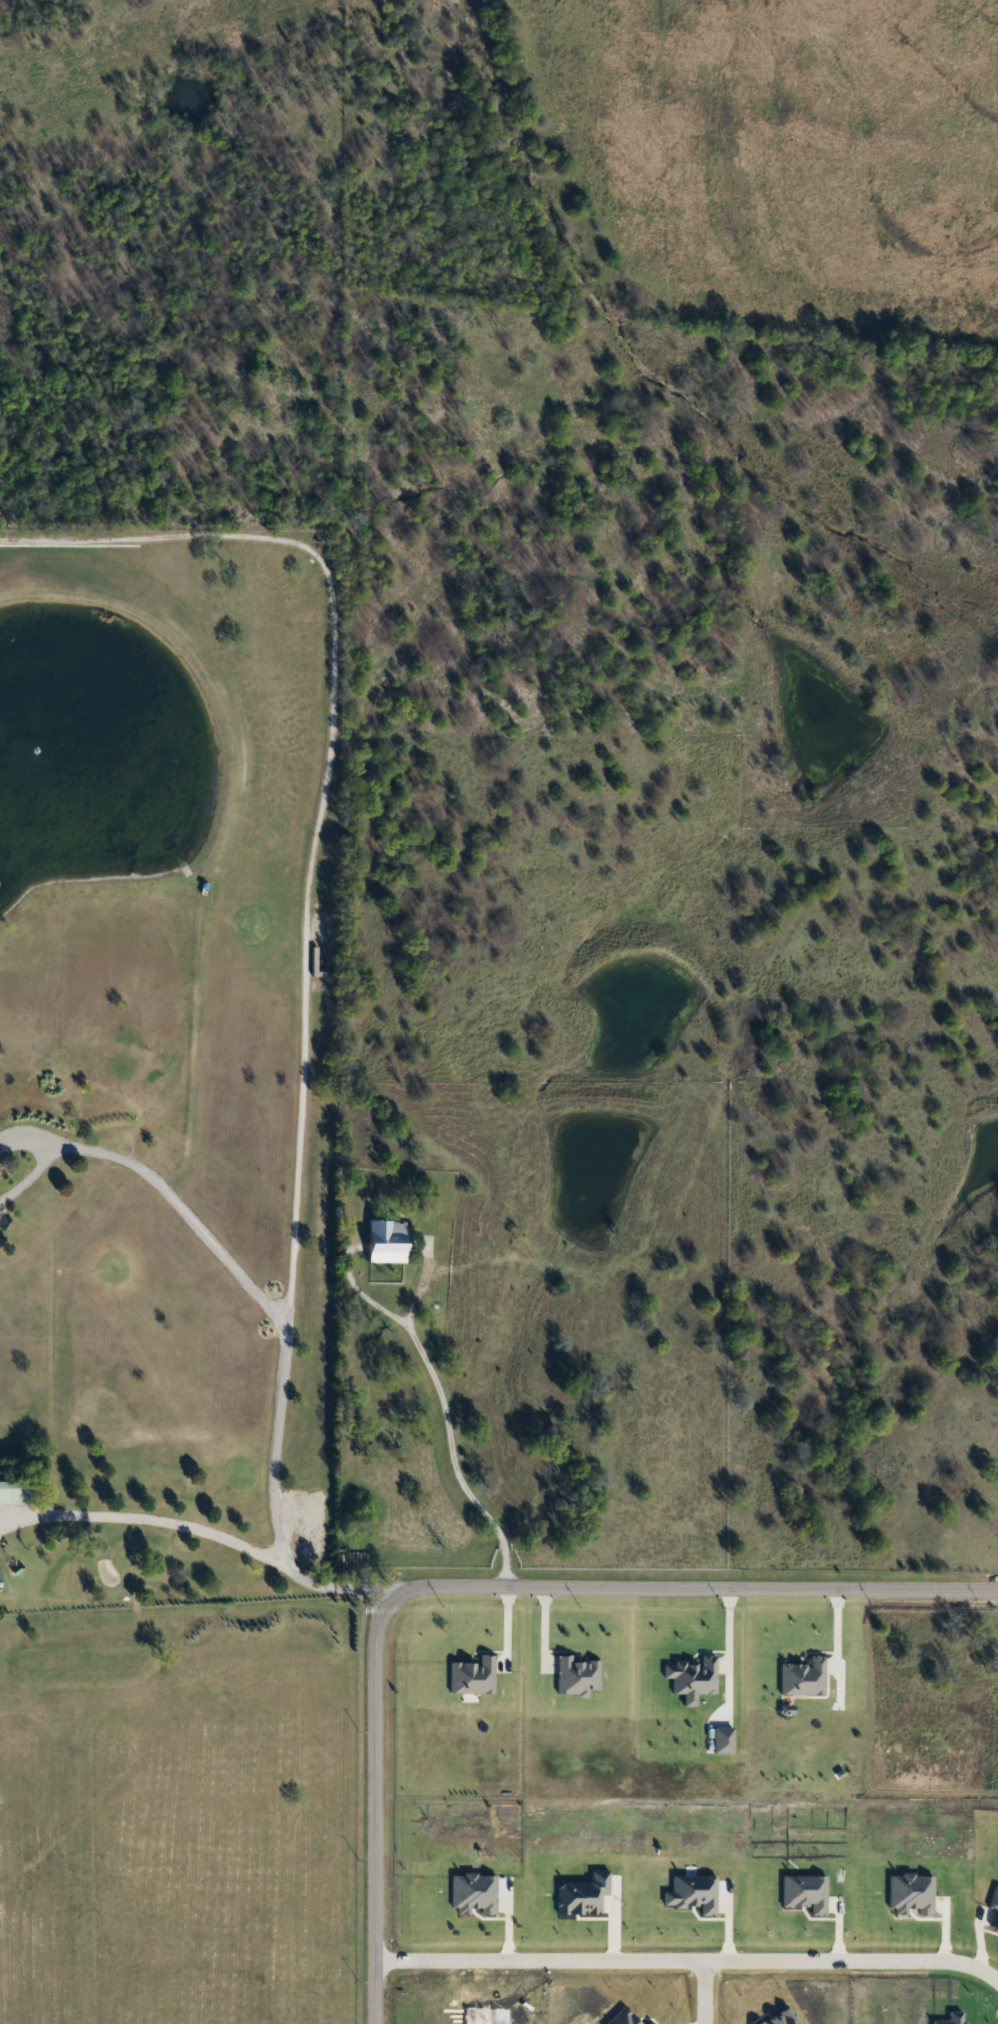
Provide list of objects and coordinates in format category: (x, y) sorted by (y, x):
road: (299, 897)
road: (154, 1184)
building: (388, 1241)
road: (362, 1294)
road: (448, 1429)
building: (16, 1492)
road: (202, 1530)
building: (1, 1580)
road: (481, 1591)
road: (687, 1960)
road: (701, 1992)

